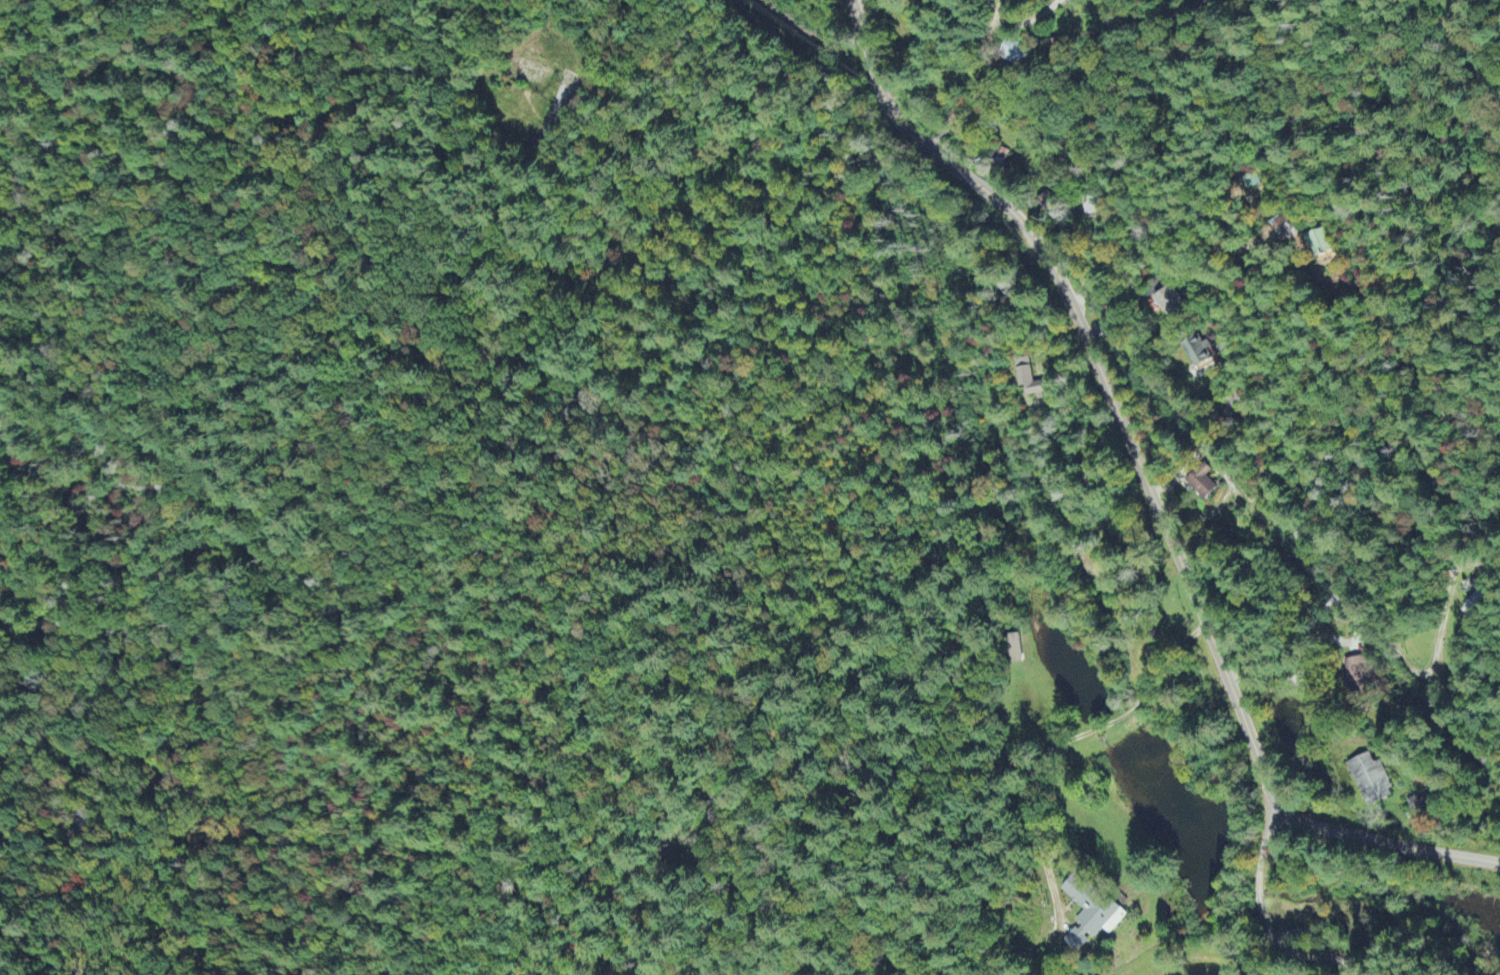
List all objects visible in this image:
road: (999, 19)
building: (1013, 53)
road: (389, 175)
building: (1320, 242)
building: (1169, 302)
building: (1198, 354)
road: (920, 356)
building: (1026, 378)
road: (1104, 379)
road: (1243, 379)
building: (1201, 482)
building: (1474, 603)
road: (1367, 648)
building: (1015, 649)
building: (1356, 675)
road: (46, 714)
building: (1369, 780)
road: (1384, 843)
building: (1090, 914)
road: (1267, 932)

